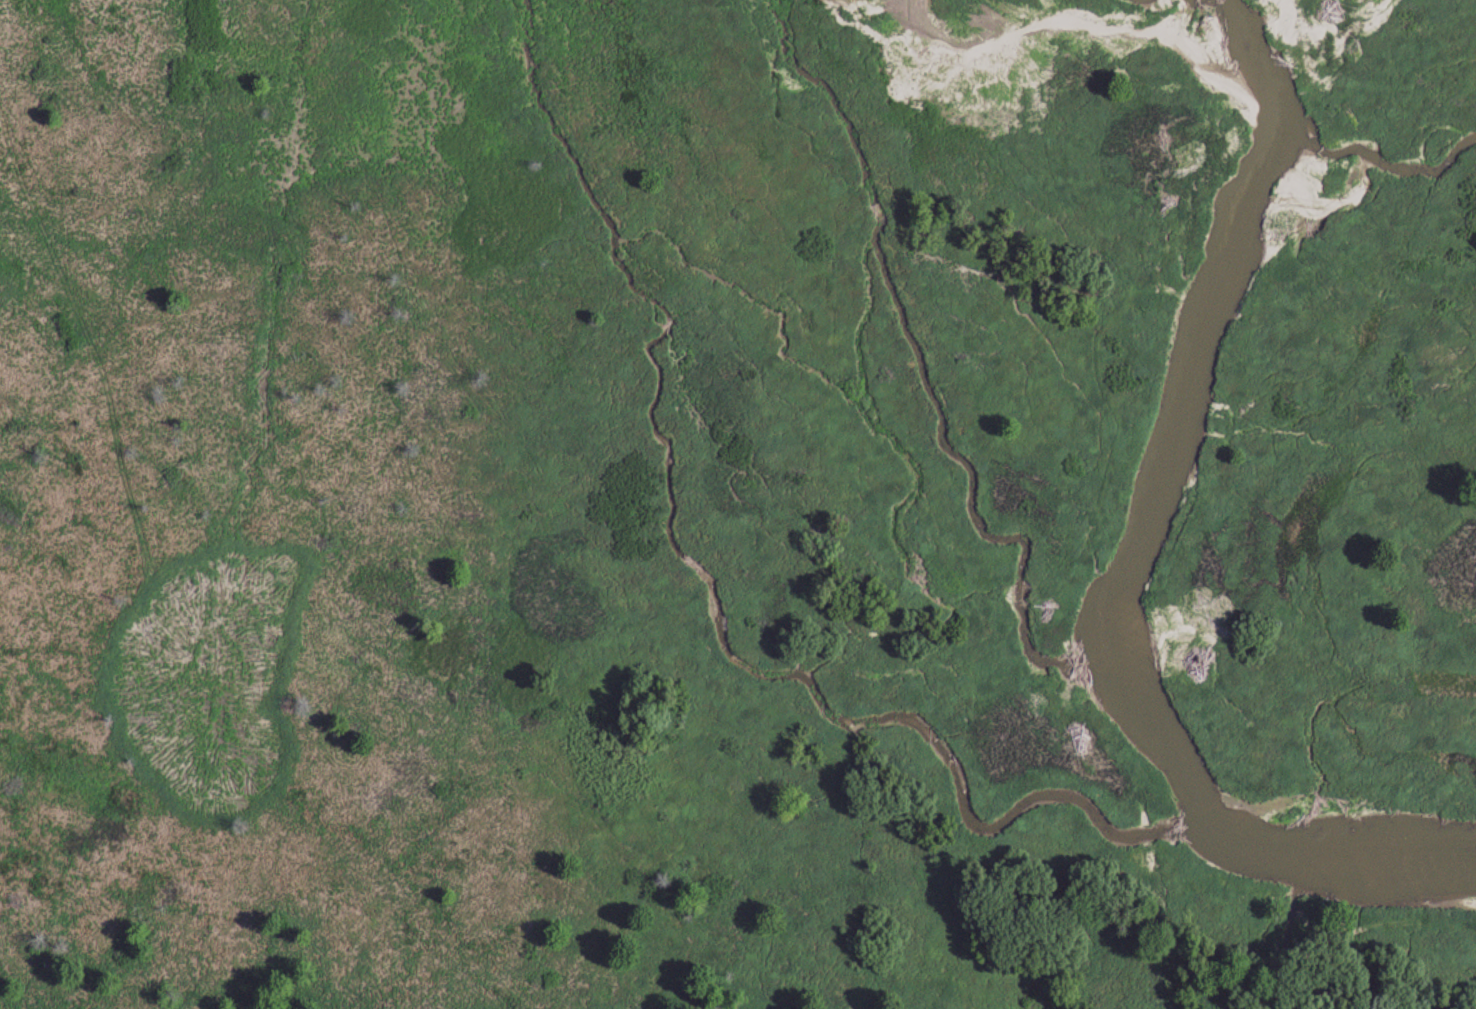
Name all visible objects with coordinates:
river: (1144, 537)

